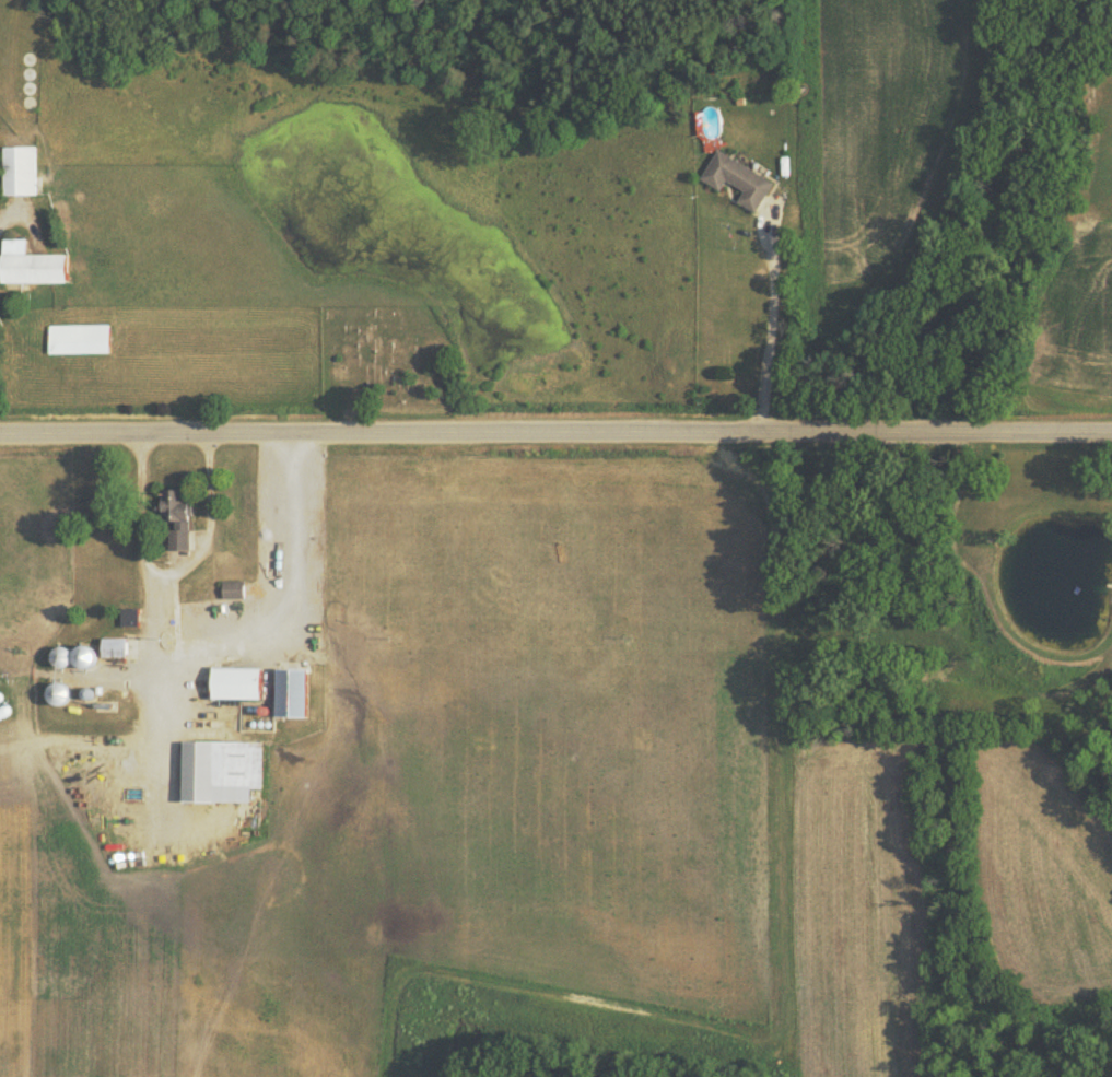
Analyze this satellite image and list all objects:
crop: (880, 130)
building: (20, 169)
building: (738, 178)
building: (31, 264)
building: (78, 338)
park: (387, 364)
road: (555, 433)
building: (175, 516)
building: (232, 588)
building: (129, 617)
building: (114, 646)
building: (235, 682)
building: (290, 692)
building: (219, 770)

